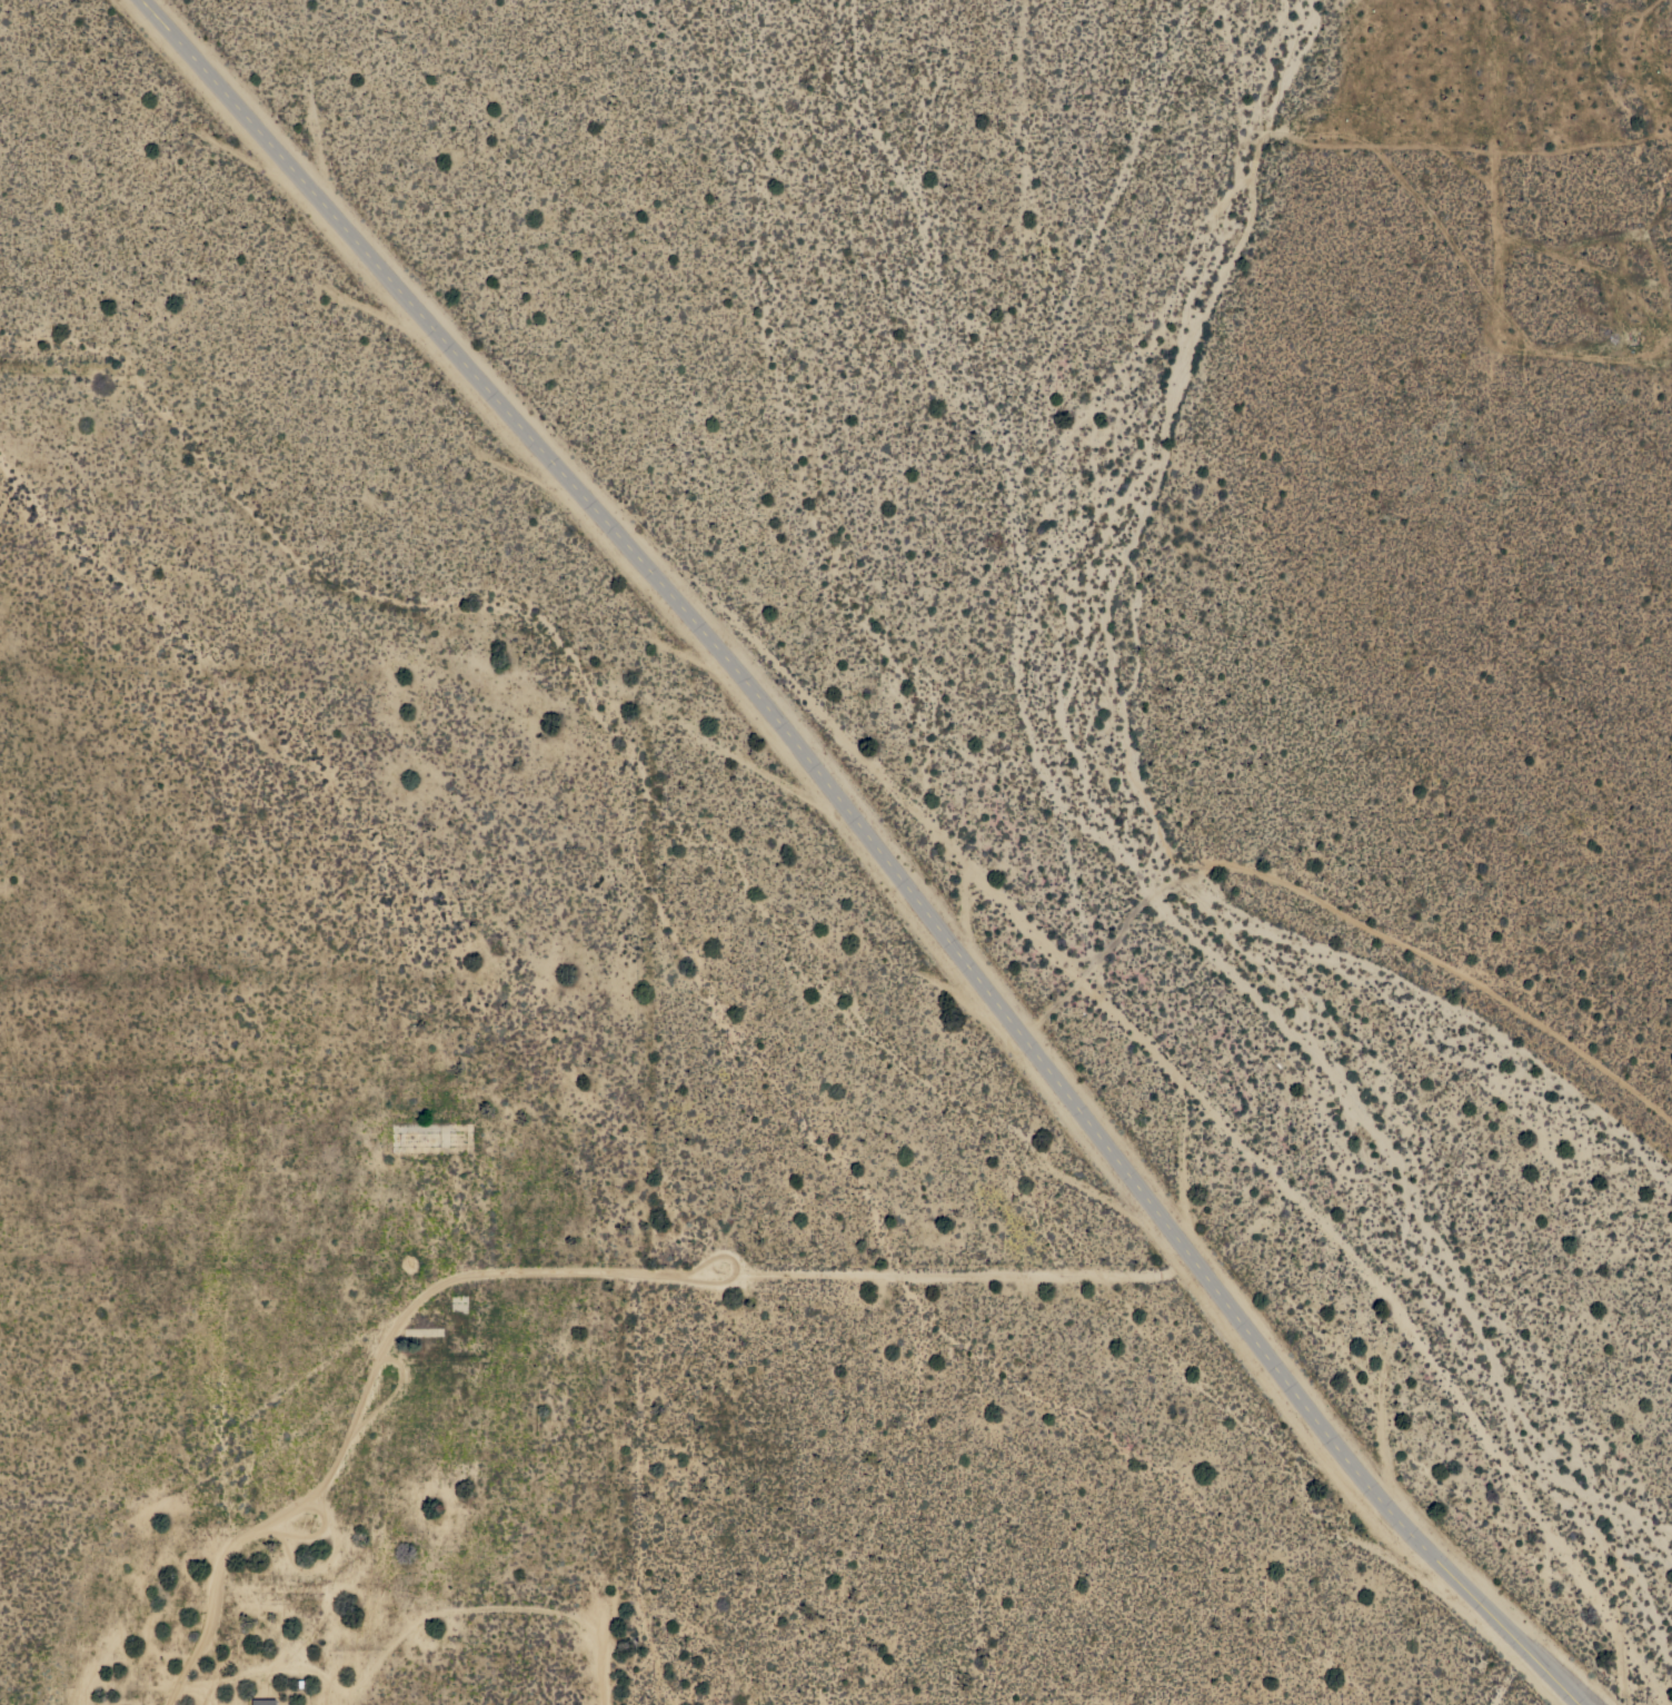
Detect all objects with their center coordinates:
road: (872, 844)
road: (559, 1272)
building: (265, 1702)

